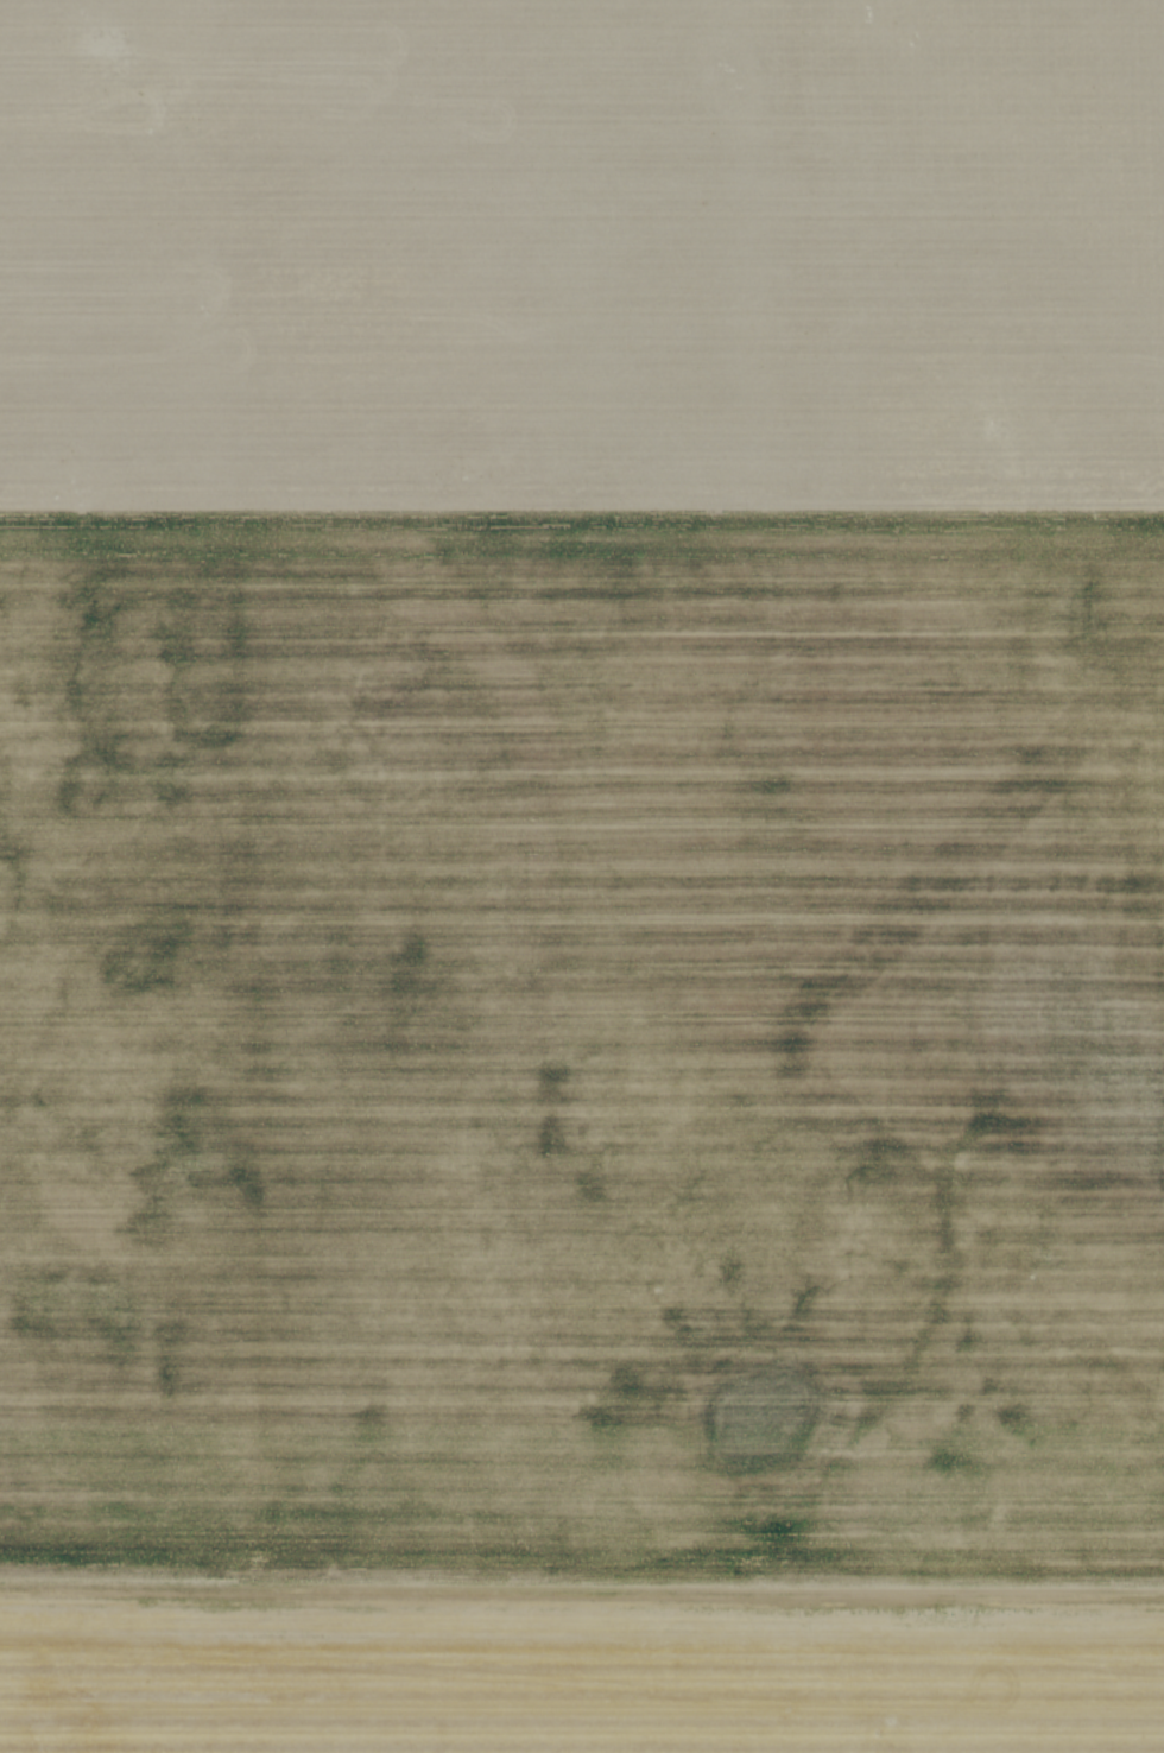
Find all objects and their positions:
crop: (582, 876)

